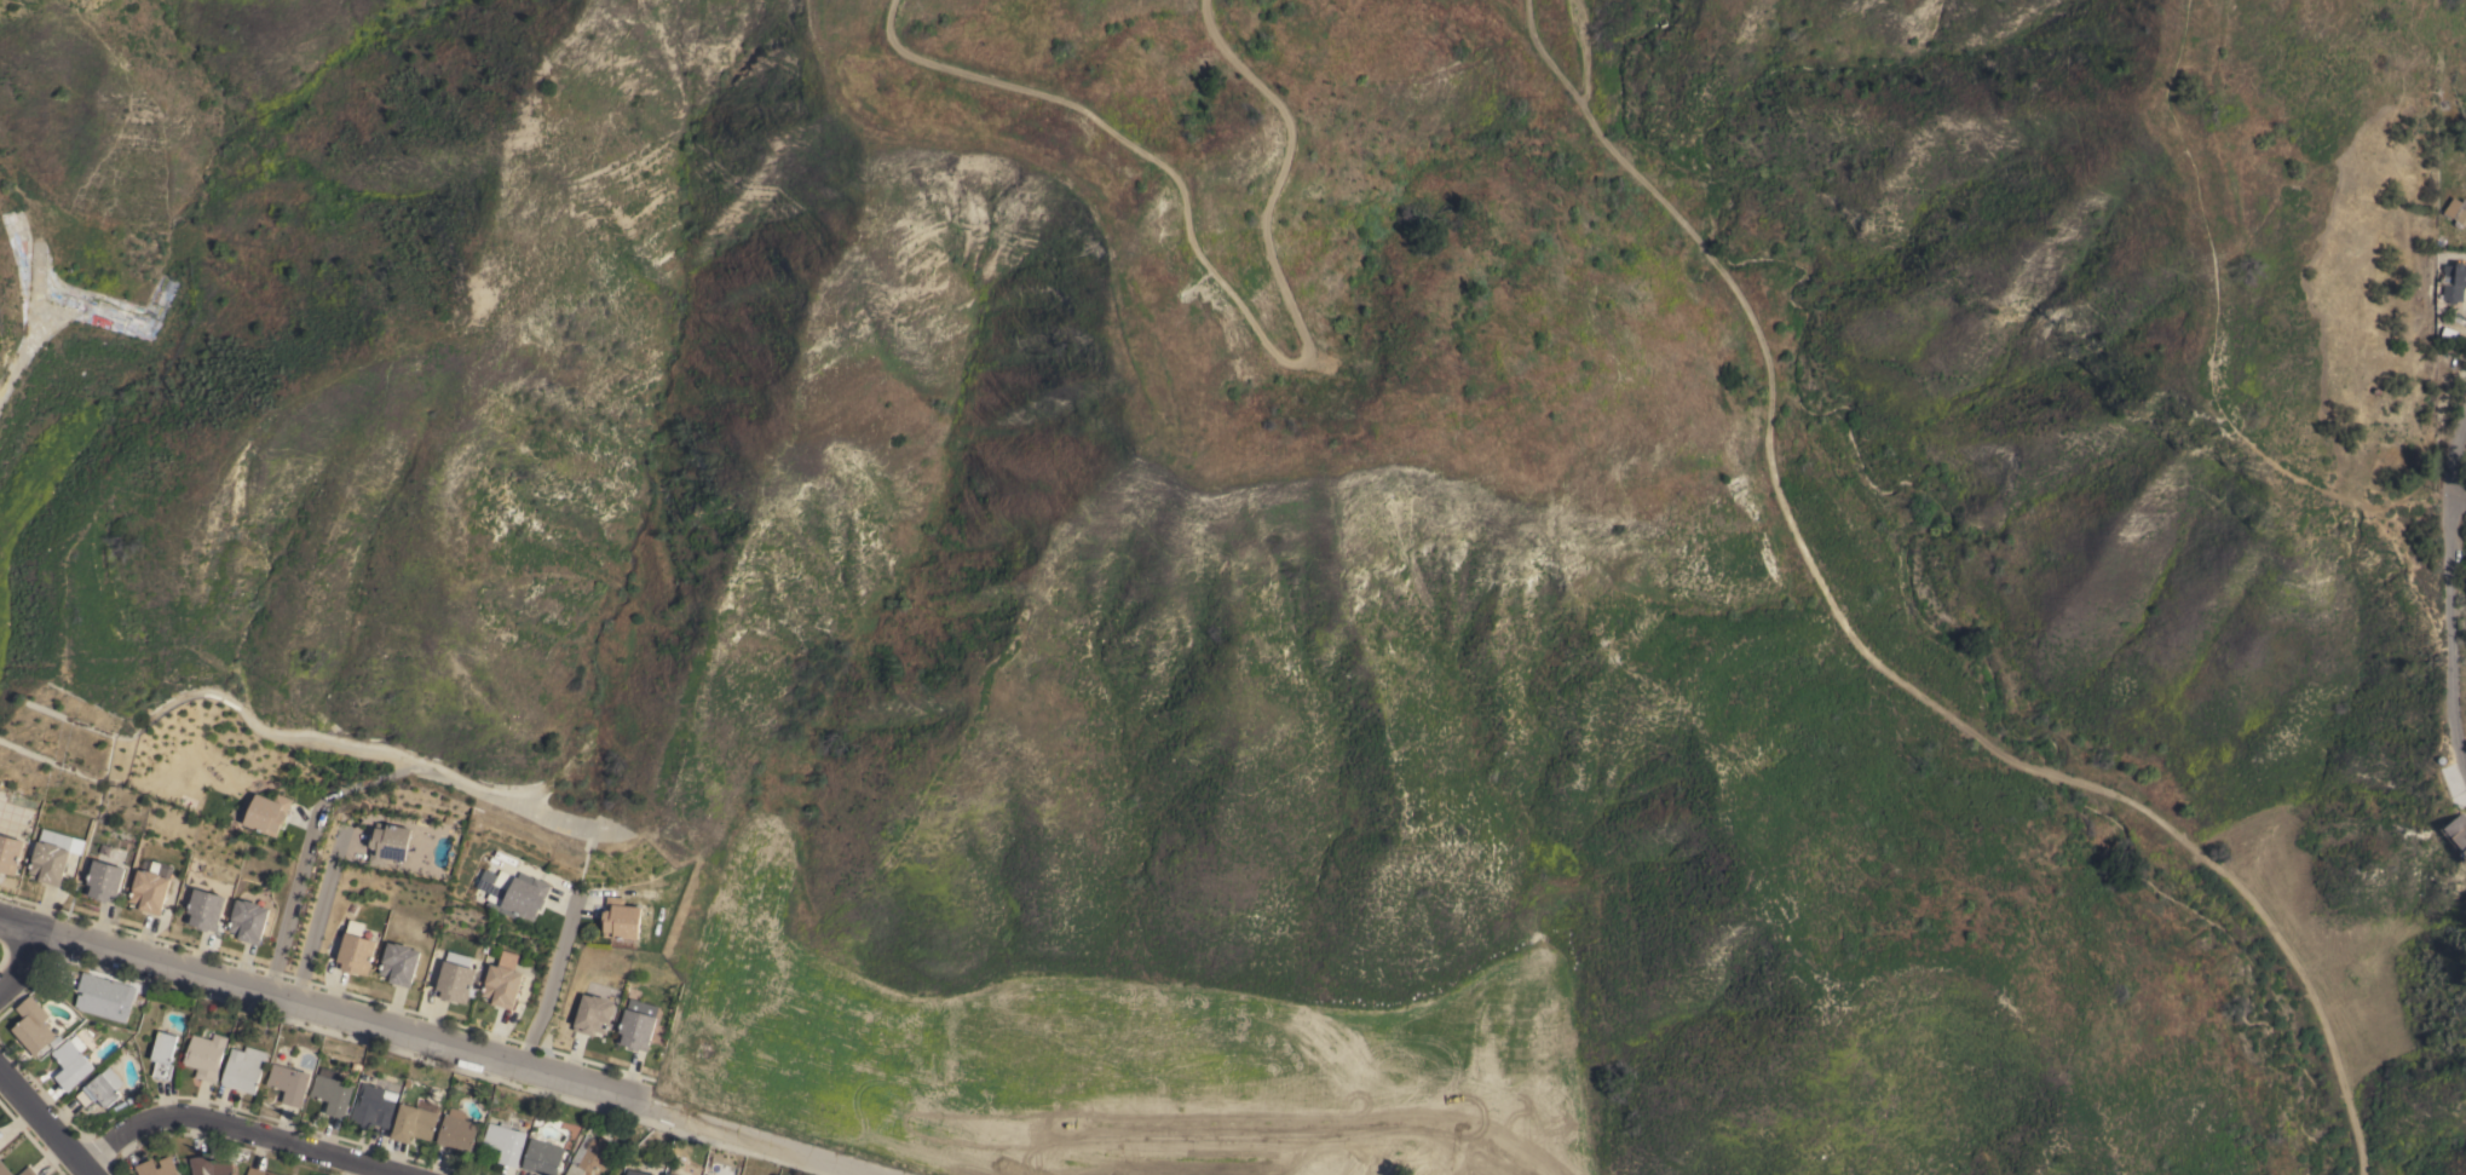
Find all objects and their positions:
road: (1544, 47)
road: (1583, 47)
building: (2455, 213)
building: (2449, 284)
road: (1240, 305)
road: (2459, 457)
road: (2459, 486)
road: (2449, 628)
road: (1918, 687)
building: (269, 812)
building: (388, 842)
building: (2453, 842)
building: (10, 853)
building: (47, 862)
building: (104, 881)
building: (150, 891)
building: (526, 897)
building: (204, 909)
road: (293, 912)
building: (621, 917)
road: (315, 918)
building: (248, 920)
building: (355, 954)
building: (398, 963)
road: (27, 967)
building: (454, 979)
building: (501, 985)
road: (549, 986)
building: (103, 996)
building: (593, 1014)
road: (329, 1020)
building: (636, 1024)
building: (34, 1026)
building: (206, 1053)
building: (163, 1055)
building: (73, 1062)
building: (244, 1070)
building: (290, 1084)
building: (102, 1088)
building: (333, 1094)
building: (137, 1095)
building: (373, 1105)
road: (48, 1119)
building: (414, 1123)
road: (237, 1128)
building: (457, 1130)
building: (506, 1144)
road: (768, 1144)
building: (589, 1156)
building: (542, 1157)
building: (168, 1164)
road: (1475, 1165)
building: (213, 1168)
building: (4, 1169)
building: (28, 1171)
building: (258, 1173)
building: (636, 1173)
building: (668, 1174)
building: (702, 1174)

